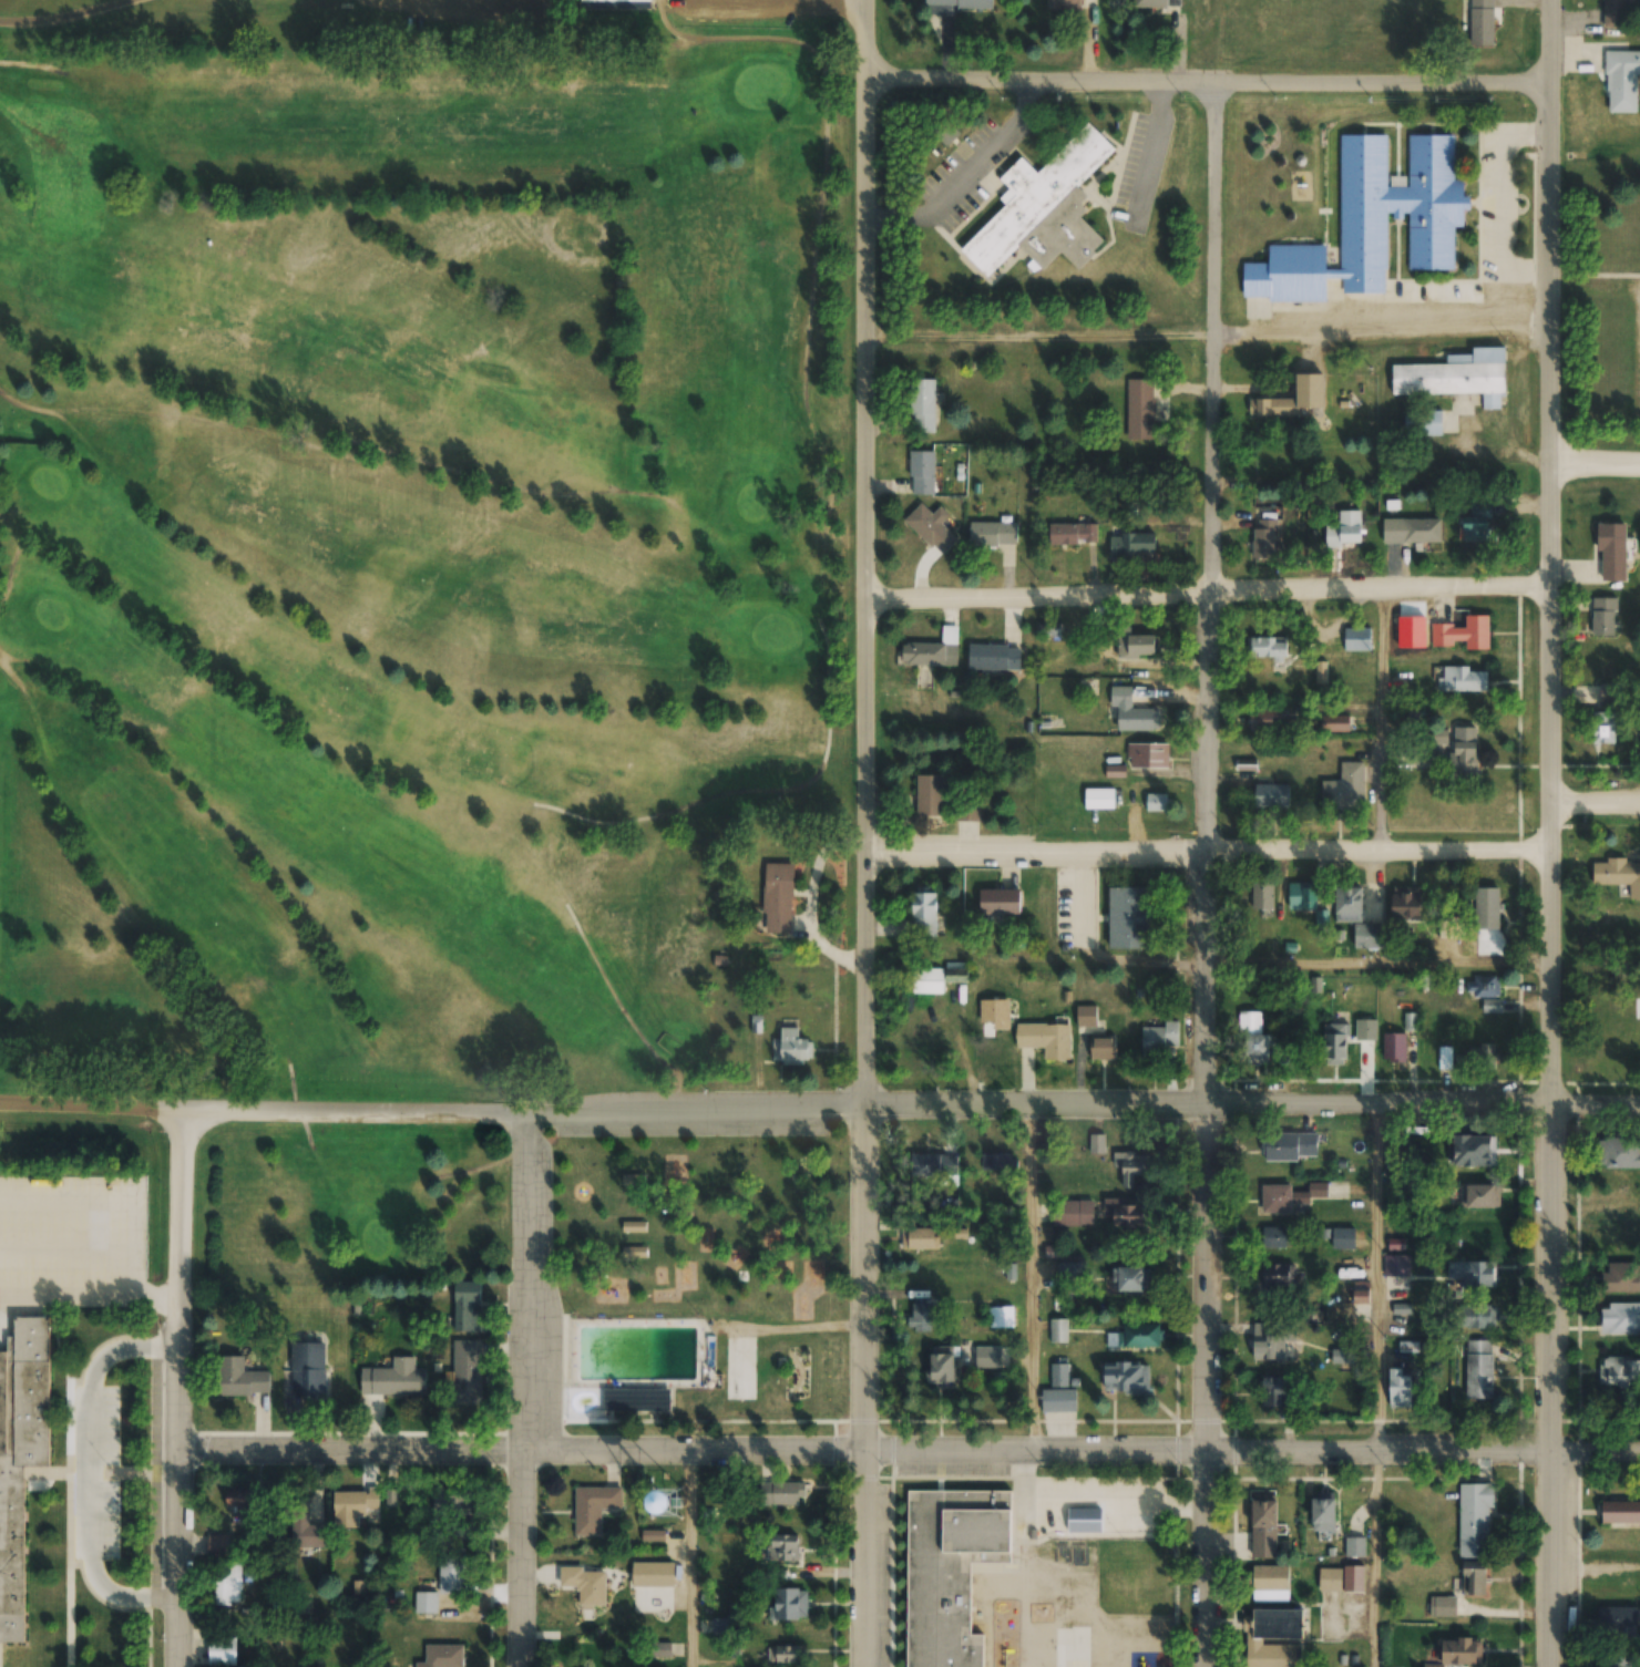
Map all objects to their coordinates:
road: (379, 2)
road: (390, 2)
building: (616, 2)
building: (959, 3)
building: (1157, 3)
building: (1064, 4)
road: (758, 12)
road: (54, 13)
building: (1615, 13)
road: (480, 17)
building: (1482, 22)
road: (32, 61)
road: (1205, 78)
building: (1621, 81)
building: (946, 133)
building: (1044, 209)
building: (1373, 223)
road: (1203, 330)
building: (1454, 375)
building: (1292, 399)
road: (20, 402)
building: (922, 405)
building: (1145, 408)
road: (181, 415)
building: (1423, 422)
road: (1595, 453)
road: (821, 455)
building: (1263, 462)
building: (922, 473)
building: (931, 528)
building: (1474, 528)
building: (1344, 531)
building: (1411, 531)
building: (993, 534)
building: (1073, 534)
building: (1264, 539)
building: (1131, 545)
road: (13, 546)
park: (417, 548)
building: (1612, 553)
road: (1202, 593)
building: (1603, 616)
building: (1463, 634)
building: (1357, 639)
building: (1137, 645)
building: (1267, 648)
building: (933, 650)
building: (994, 657)
building: (1320, 672)
building: (1460, 680)
road: (37, 685)
building: (1613, 694)
road: (29, 706)
building: (1130, 713)
building: (1267, 720)
building: (1334, 723)
building: (1605, 728)
building: (1147, 755)
building: (1421, 757)
building: (1465, 760)
building: (1247, 765)
road: (749, 788)
building: (1344, 790)
building: (930, 796)
building: (1271, 798)
building: (1098, 800)
road: (1591, 802)
building: (1157, 803)
building: (967, 811)
road: (855, 833)
road: (1542, 833)
road: (1198, 840)
road: (1213, 873)
building: (1618, 876)
building: (775, 894)
building: (1261, 896)
building: (1302, 896)
building: (1349, 901)
building: (1000, 902)
building: (1405, 903)
building: (1487, 908)
building: (924, 914)
building: (1131, 918)
building: (1367, 936)
road: (583, 940)
building: (717, 957)
building: (937, 978)
building: (1487, 994)
building: (1086, 1016)
building: (1365, 1031)
building: (1046, 1039)
building: (1252, 1040)
building: (1160, 1041)
building: (1335, 1041)
building: (788, 1042)
building: (922, 1047)
building: (992, 1047)
building: (1103, 1048)
building: (1394, 1048)
building: (1482, 1057)
building: (1613, 1059)
road: (288, 1076)
road: (771, 1119)
road: (1591, 1119)
road: (306, 1132)
building: (1289, 1148)
building: (1474, 1151)
building: (1620, 1154)
road: (481, 1163)
building: (932, 1165)
building: (1130, 1169)
road: (451, 1174)
building: (33, 1195)
building: (1479, 1196)
building: (1289, 1197)
building: (1073, 1213)
building: (1130, 1216)
building: (634, 1227)
building: (1273, 1237)
building: (920, 1239)
building: (1343, 1239)
building: (1397, 1265)
building: (1070, 1272)
building: (1472, 1275)
building: (1278, 1276)
building: (1621, 1276)
building: (1130, 1279)
park: (701, 1287)
building: (468, 1306)
building: (920, 1316)
building: (1477, 1316)
building: (1001, 1317)
building: (1619, 1318)
building: (1058, 1330)
building: (1135, 1337)
building: (1272, 1340)
building: (1343, 1356)
building: (947, 1362)
building: (306, 1365)
building: (465, 1368)
building: (1478, 1369)
building: (397, 1371)
building: (1619, 1372)
building: (1059, 1375)
building: (240, 1378)
building: (1126, 1378)
building: (1401, 1388)
building: (1274, 1392)
road: (177, 1393)
road: (544, 1393)
building: (636, 1399)
road: (1592, 1450)
road: (860, 1454)
building: (20, 1457)
building: (783, 1493)
building: (443, 1502)
building: (242, 1503)
water tower: (666, 1503)
building: (594, 1507)
building: (349, 1509)
building: (1620, 1513)
building: (1324, 1515)
building: (1474, 1521)
building: (305, 1529)
building: (1263, 1529)
building: (217, 1545)
building: (780, 1547)
building: (1355, 1547)
building: (451, 1571)
building: (950, 1571)
building: (1478, 1577)
building: (1330, 1582)
building: (1268, 1584)
building: (228, 1585)
building: (586, 1586)
building: (790, 1605)
building: (1443, 1607)
building: (1616, 1622)
building: (725, 1624)
building: (1273, 1638)
building: (1460, 1651)
building: (783, 1654)
building: (443, 1656)

